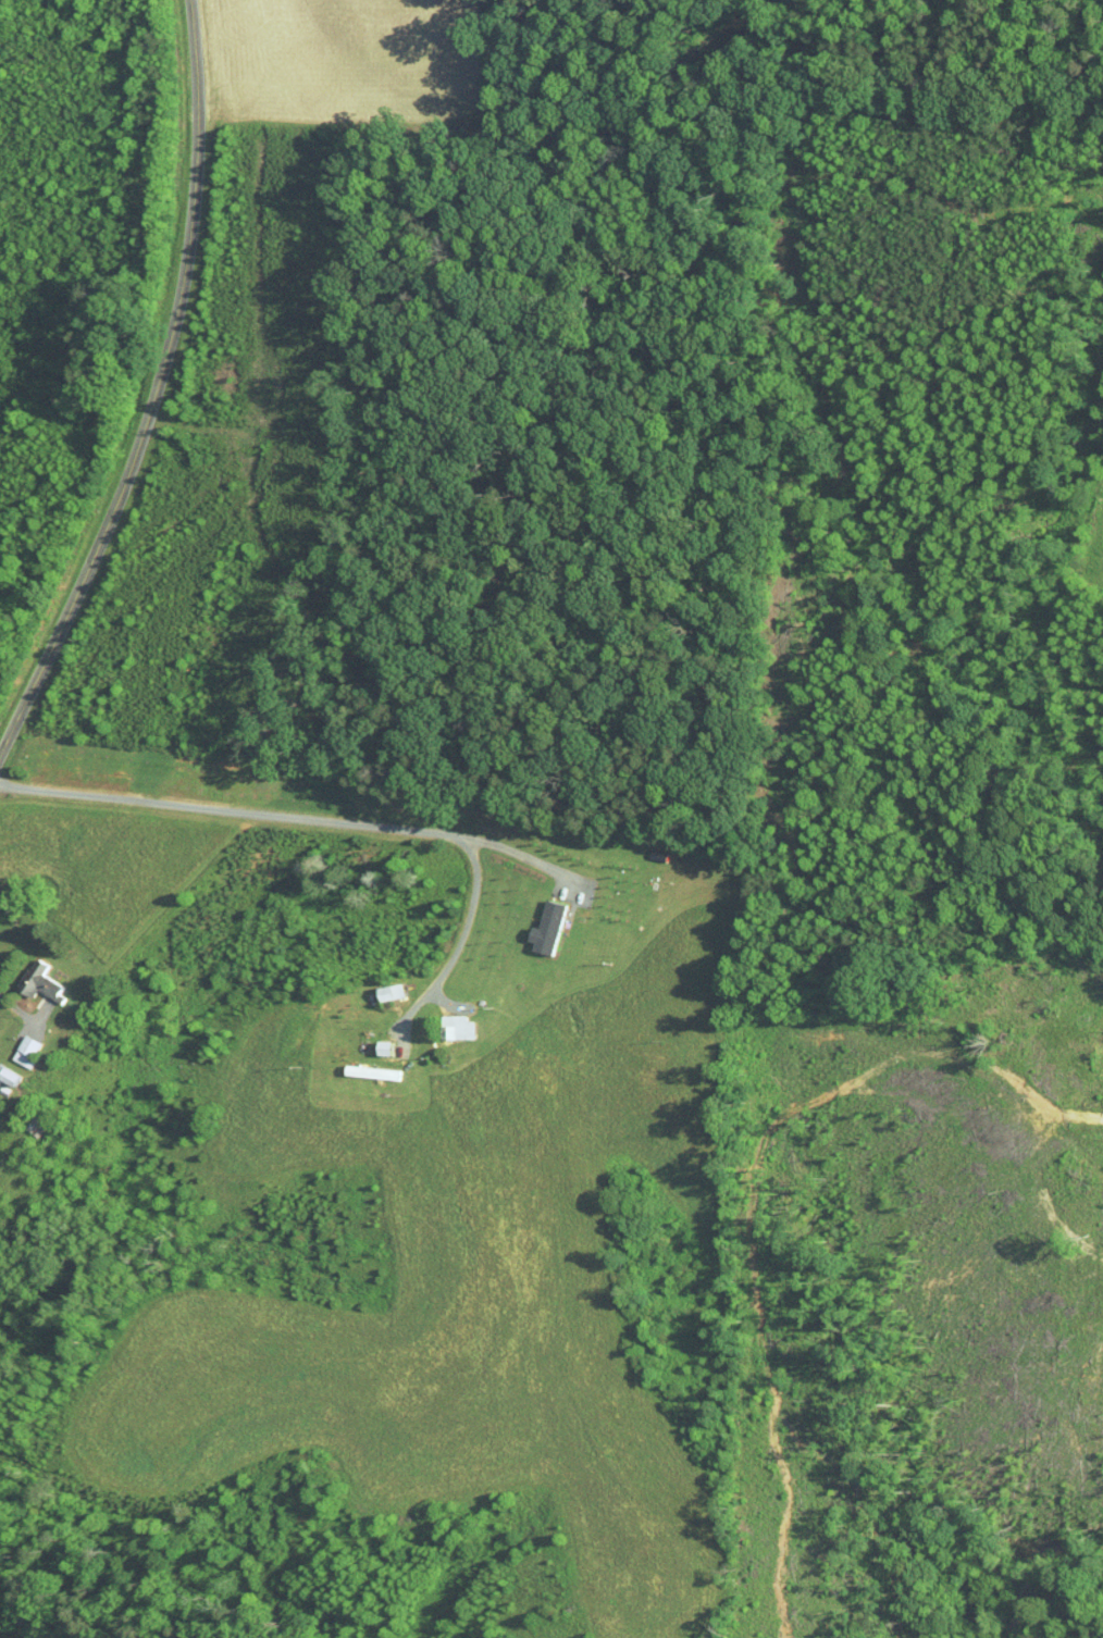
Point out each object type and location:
road: (160, 390)
road: (290, 815)
building: (540, 921)
building: (34, 975)
building: (383, 984)
road: (15, 1007)
building: (379, 1040)
building: (17, 1043)
building: (5, 1069)

